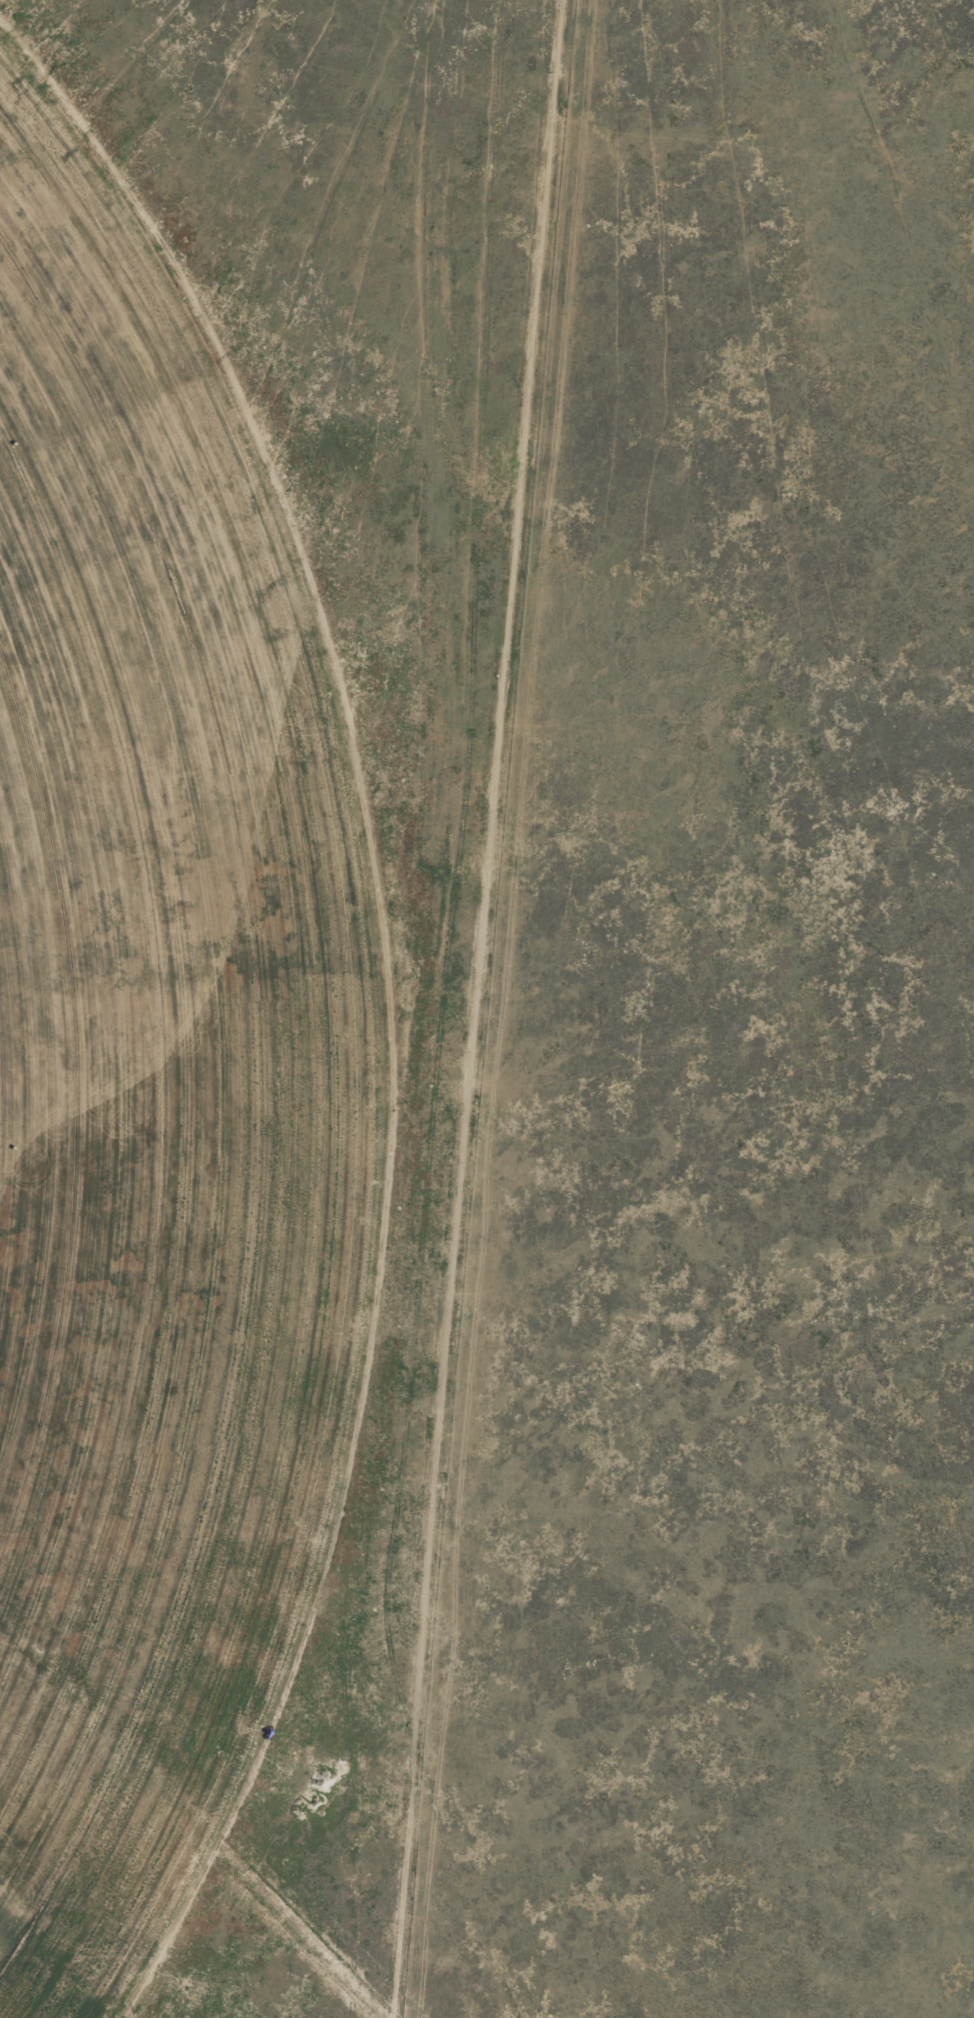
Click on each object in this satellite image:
crop: (143, 1089)

